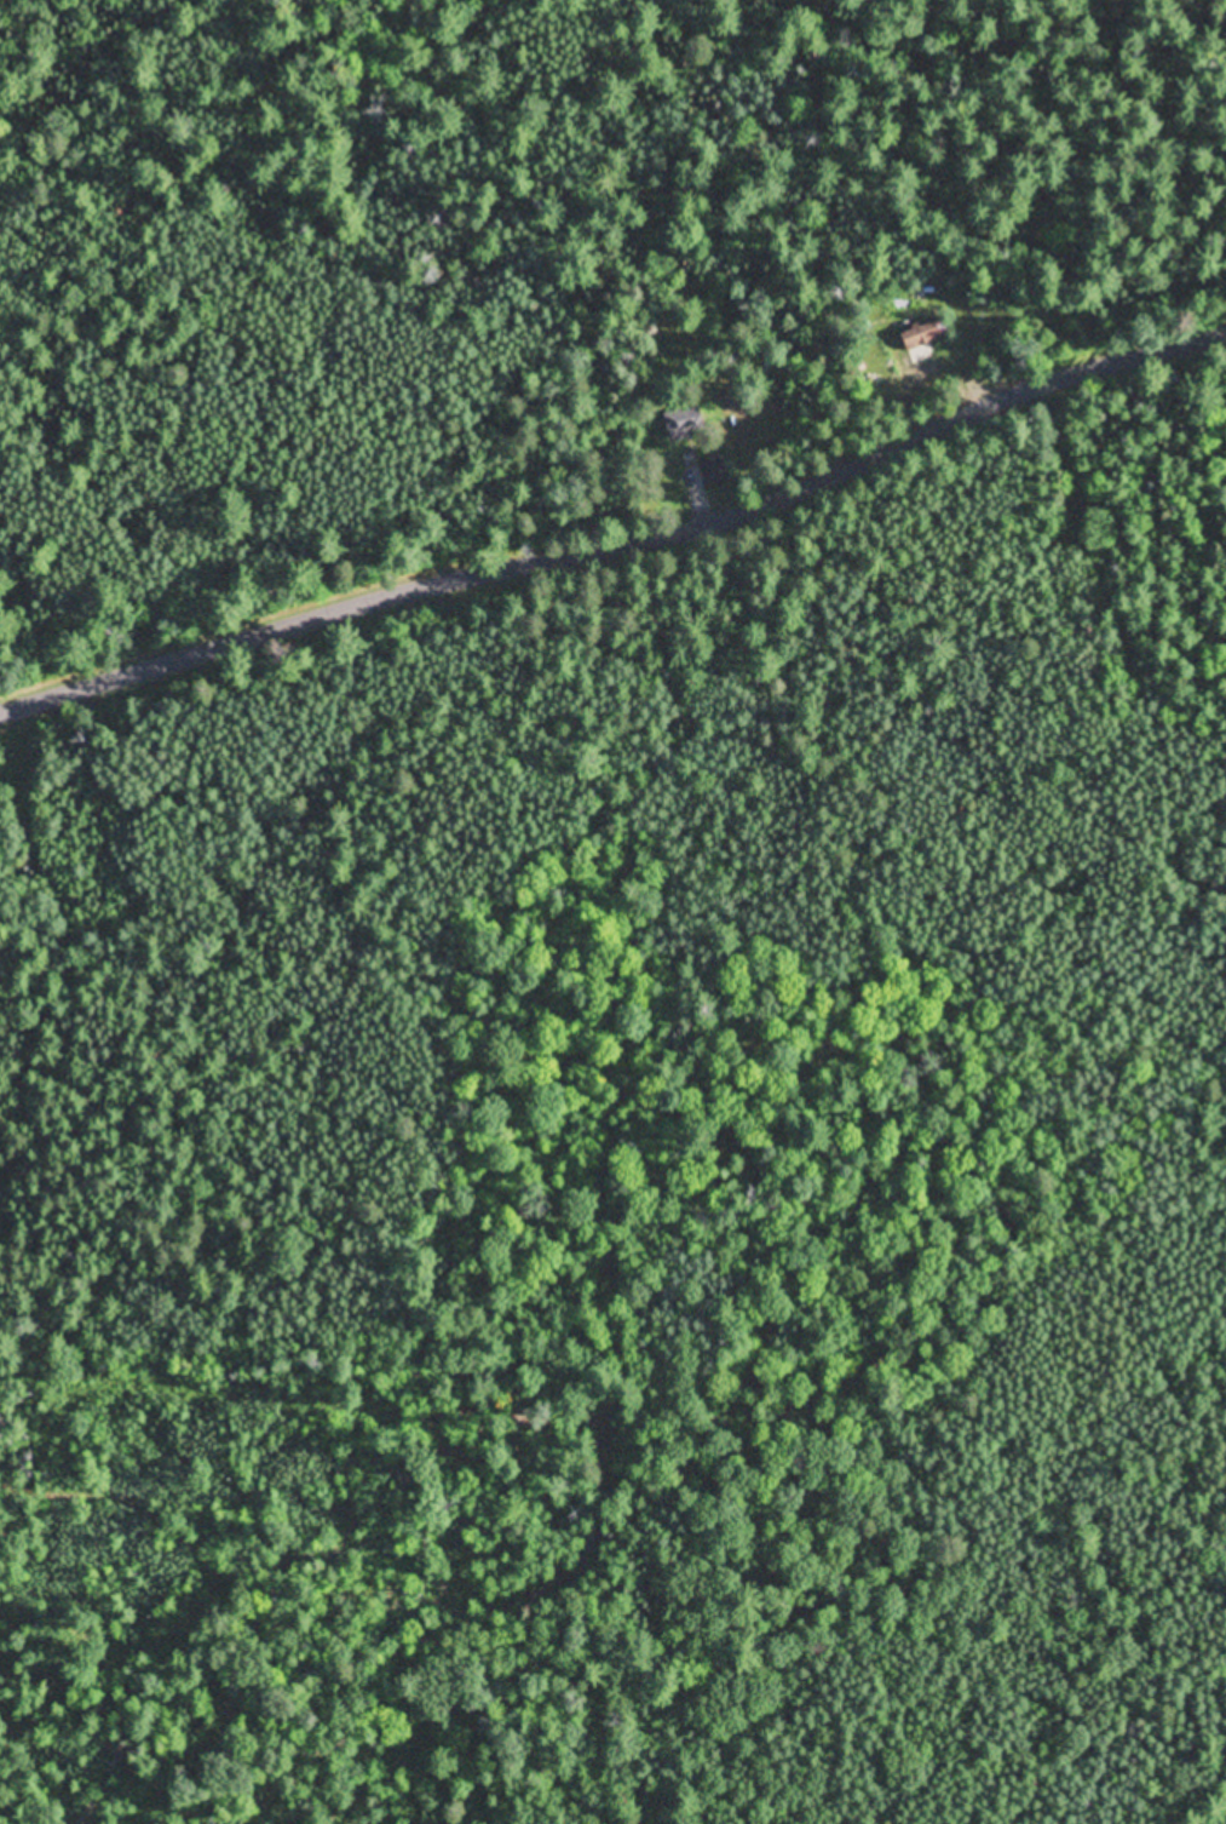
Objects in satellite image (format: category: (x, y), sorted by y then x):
building: (913, 329)
road: (620, 543)

